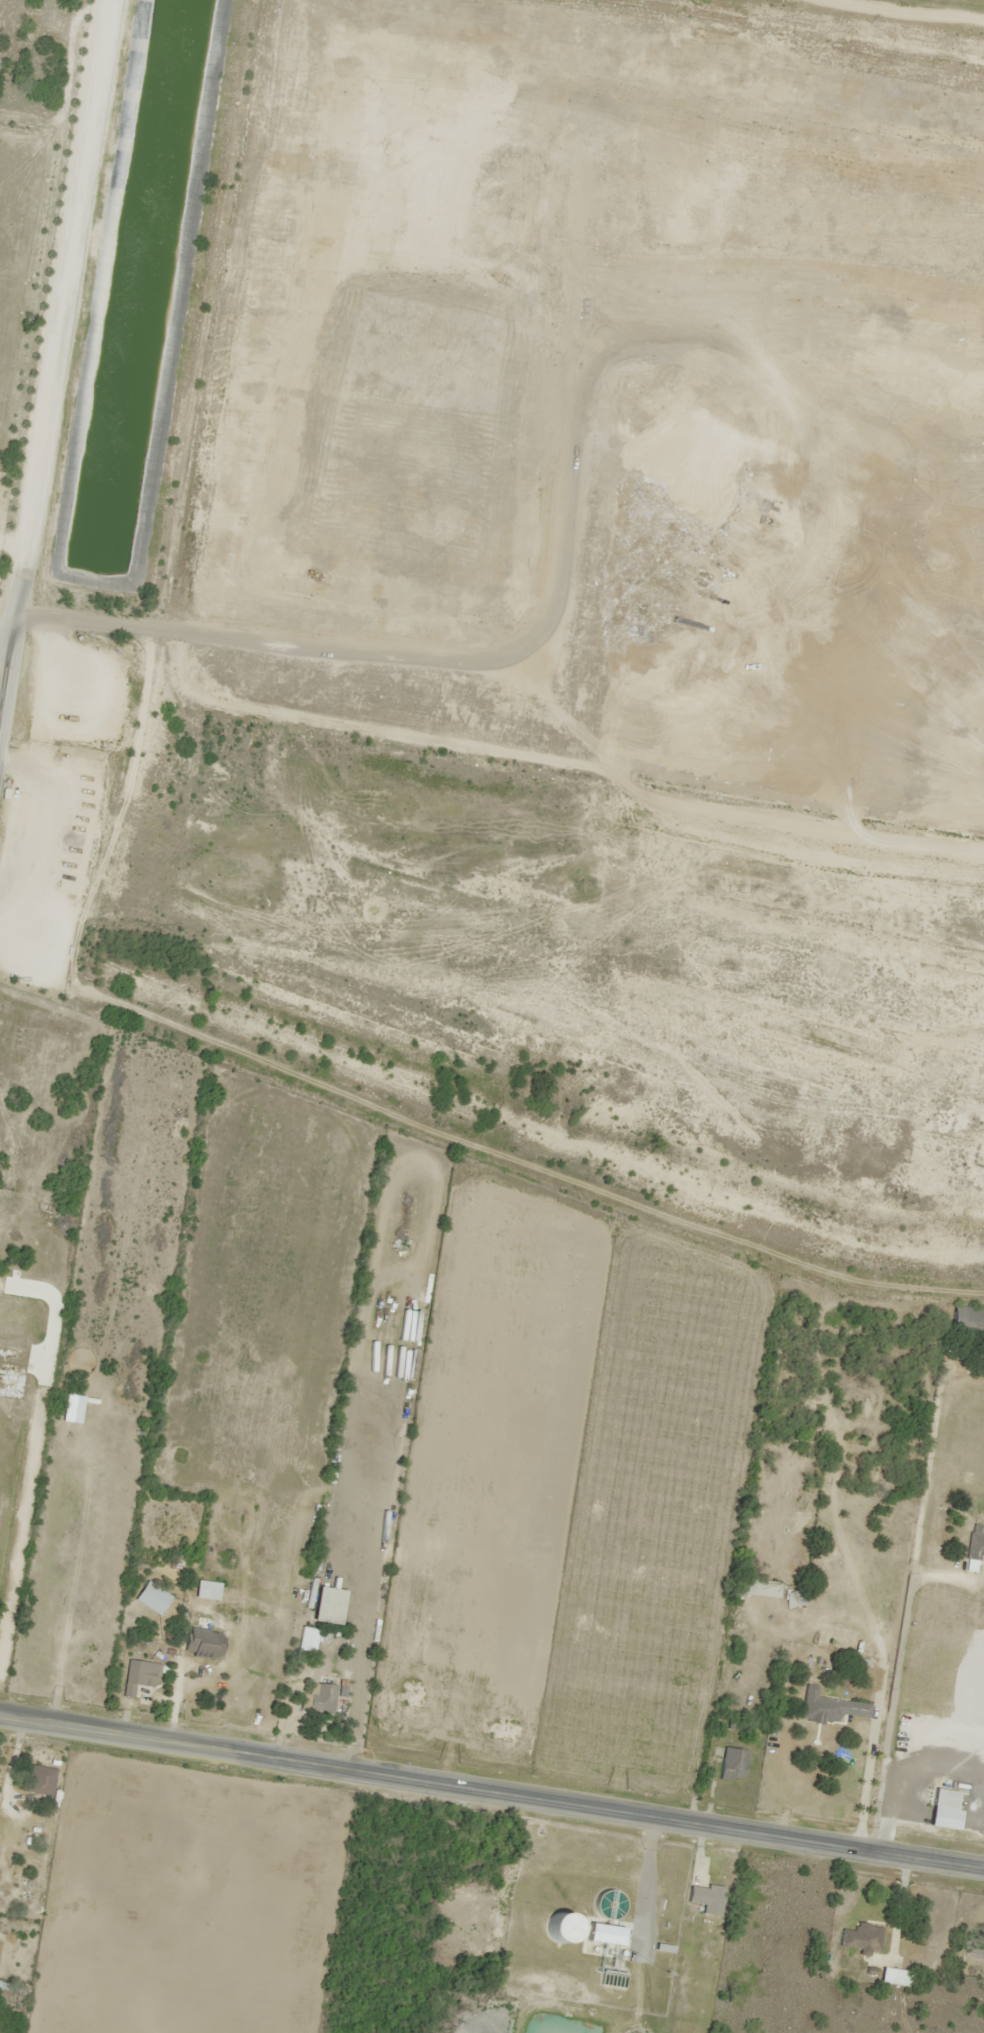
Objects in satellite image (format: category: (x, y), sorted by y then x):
road: (54, 361)
road: (12, 543)
road: (7, 636)
building: (94, 805)
building: (10, 861)
building: (74, 886)
building: (966, 1320)
building: (974, 1549)
building: (766, 1589)
building: (150, 1598)
building: (201, 1642)
building: (138, 1676)
building: (319, 1699)
building: (828, 1708)
building: (731, 1765)
building: (39, 1780)
road: (492, 1791)
building: (941, 1798)
building: (29, 1859)
road: (647, 1883)
building: (705, 1898)
building: (561, 1927)
storage tank: (561, 1927)
building: (604, 1934)
building: (861, 1938)
building: (8, 1986)

